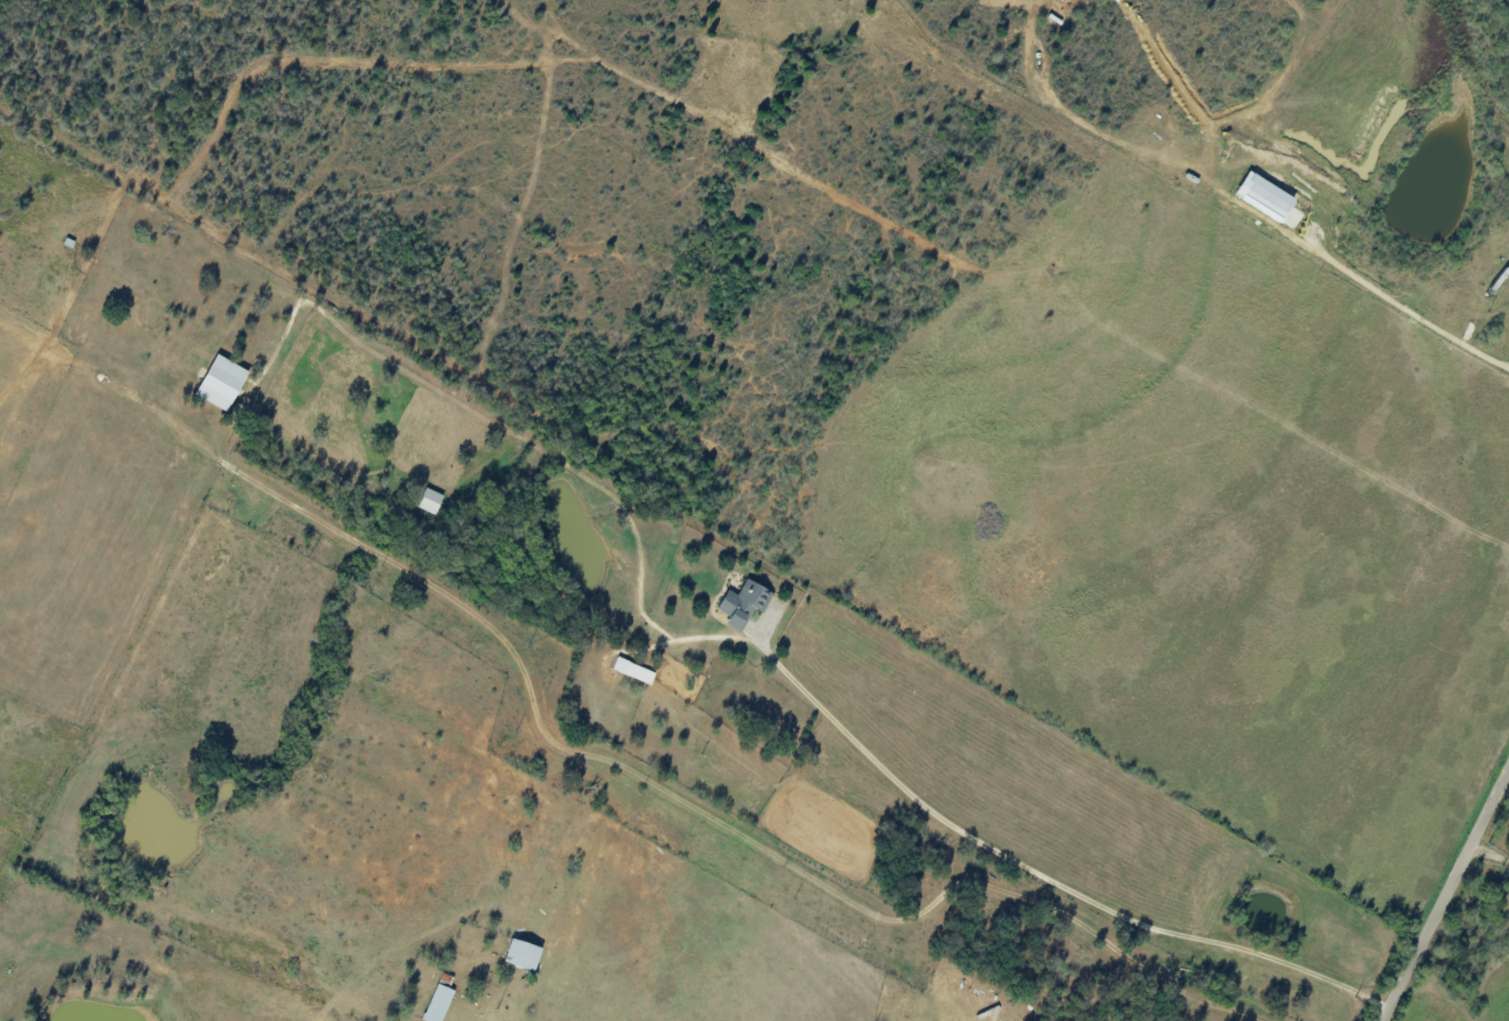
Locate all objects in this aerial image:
building: (1265, 195)
building: (1293, 217)
road: (1409, 310)
building: (222, 382)
road: (253, 466)
building: (744, 603)
building: (634, 670)
road: (1490, 853)
road: (1044, 887)
road: (1444, 896)
road: (1330, 903)
building: (523, 953)
building: (438, 1003)

